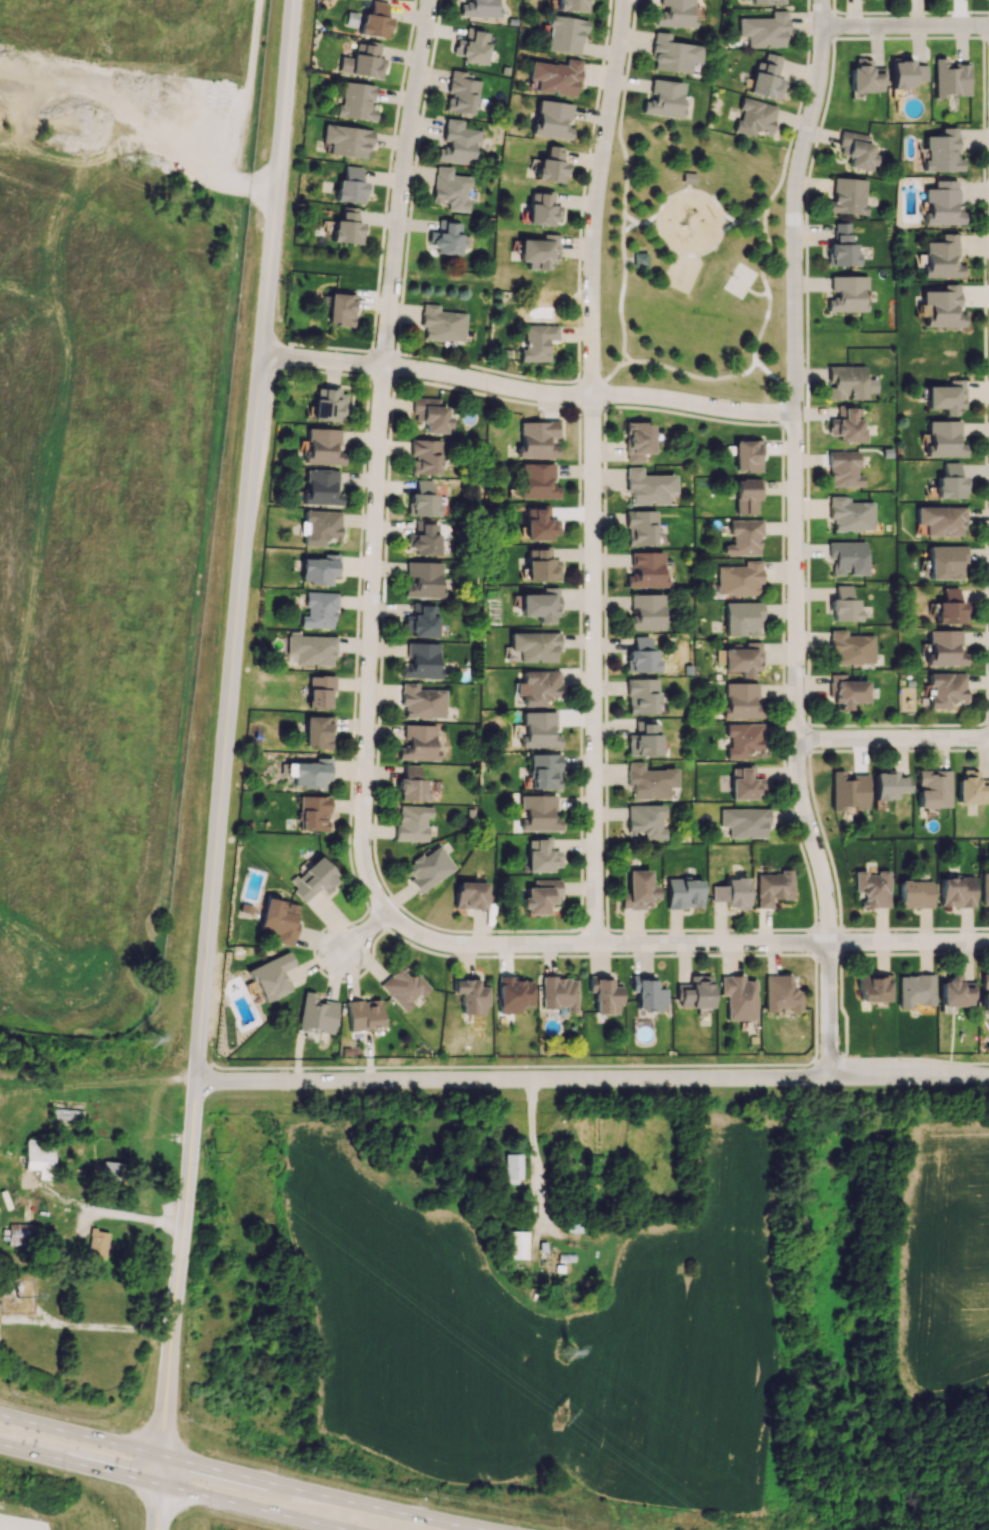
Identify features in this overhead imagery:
building: (767, 1)
building: (571, 5)
building: (479, 8)
building: (674, 13)
building: (375, 21)
road: (906, 29)
building: (764, 30)
building: (564, 34)
building: (472, 46)
building: (672, 54)
building: (363, 61)
building: (905, 73)
building: (865, 76)
building: (555, 77)
building: (767, 77)
building: (949, 78)
building: (460, 93)
building: (663, 99)
building: (356, 102)
building: (754, 117)
building: (552, 119)
building: (346, 140)
building: (458, 143)
building: (856, 150)
building: (942, 151)
road: (172, 163)
building: (550, 166)
road: (276, 178)
building: (688, 178)
building: (350, 186)
road: (688, 186)
building: (450, 188)
building: (847, 196)
road: (623, 201)
building: (941, 204)
building: (541, 210)
road: (743, 220)
road: (639, 221)
road: (728, 224)
road: (628, 225)
road: (651, 225)
building: (346, 227)
road: (759, 227)
building: (446, 237)
building: (842, 247)
building: (538, 252)
road: (686, 253)
building: (942, 258)
road: (628, 259)
building: (640, 259)
park: (694, 263)
park: (740, 279)
road: (765, 283)
road: (756, 292)
building: (847, 294)
building: (941, 307)
building: (340, 309)
building: (442, 324)
building: (537, 342)
road: (624, 362)
road: (687, 373)
building: (848, 382)
road: (527, 388)
building: (945, 397)
building: (328, 404)
building: (431, 415)
building: (846, 425)
building: (536, 439)
building: (943, 439)
building: (637, 440)
building: (323, 447)
road: (252, 449)
building: (747, 455)
building: (425, 456)
road: (379, 459)
road: (592, 469)
building: (843, 469)
building: (537, 481)
building: (949, 482)
building: (648, 487)
building: (320, 488)
building: (746, 495)
building: (422, 499)
building: (850, 514)
building: (940, 520)
building: (539, 525)
building: (321, 527)
building: (640, 527)
road: (797, 537)
building: (744, 538)
building: (423, 539)
building: (847, 557)
building: (945, 562)
building: (541, 566)
building: (319, 569)
building: (646, 570)
building: (739, 578)
building: (424, 579)
building: (541, 604)
building: (844, 605)
building: (949, 608)
building: (319, 610)
building: (645, 612)
building: (742, 619)
building: (421, 621)
building: (534, 646)
building: (851, 648)
building: (944, 648)
building: (311, 649)
building: (640, 656)
building: (743, 659)
building: (421, 661)
building: (538, 687)
building: (945, 689)
building: (319, 691)
building: (847, 691)
building: (641, 696)
building: (742, 701)
building: (422, 702)
road: (226, 716)
building: (538, 730)
building: (317, 731)
building: (643, 739)
building: (743, 739)
road: (893, 741)
building: (419, 743)
building: (544, 771)
building: (309, 772)
building: (649, 782)
building: (745, 783)
building: (411, 784)
building: (888, 785)
building: (933, 788)
building: (971, 789)
building: (848, 791)
building: (313, 813)
building: (539, 813)
building: (646, 821)
building: (412, 822)
building: (744, 822)
building: (541, 856)
building: (429, 868)
building: (314, 879)
building: (773, 887)
building: (872, 888)
building: (985, 889)
building: (638, 890)
building: (957, 892)
building: (684, 893)
building: (731, 893)
building: (915, 894)
building: (470, 895)
building: (541, 896)
building: (279, 920)
road: (362, 938)
road: (684, 943)
building: (270, 976)
road: (202, 986)
building: (403, 987)
building: (873, 988)
building: (915, 990)
building: (694, 992)
building: (954, 992)
building: (984, 992)
building: (559, 993)
building: (647, 993)
building: (780, 993)
building: (513, 994)
building: (604, 995)
building: (470, 996)
building: (738, 997)
building: (315, 1014)
building: (363, 1014)
power tower: (147, 1038)
road: (297, 1054)
road: (588, 1064)
road: (591, 1077)
power tower: (207, 1152)
building: (39, 1157)
road: (535, 1158)
building: (511, 1168)
building: (111, 1171)
road: (136, 1215)
road: (45, 1218)
building: (17, 1235)
building: (97, 1243)
building: (516, 1244)
crop: (940, 1255)
road: (176, 1282)
road: (93, 1328)
power tower: (559, 1357)
power tower: (556, 1418)
road: (80, 1434)
road: (79, 1464)
road: (321, 1496)
road: (155, 1506)
road: (250, 1507)

